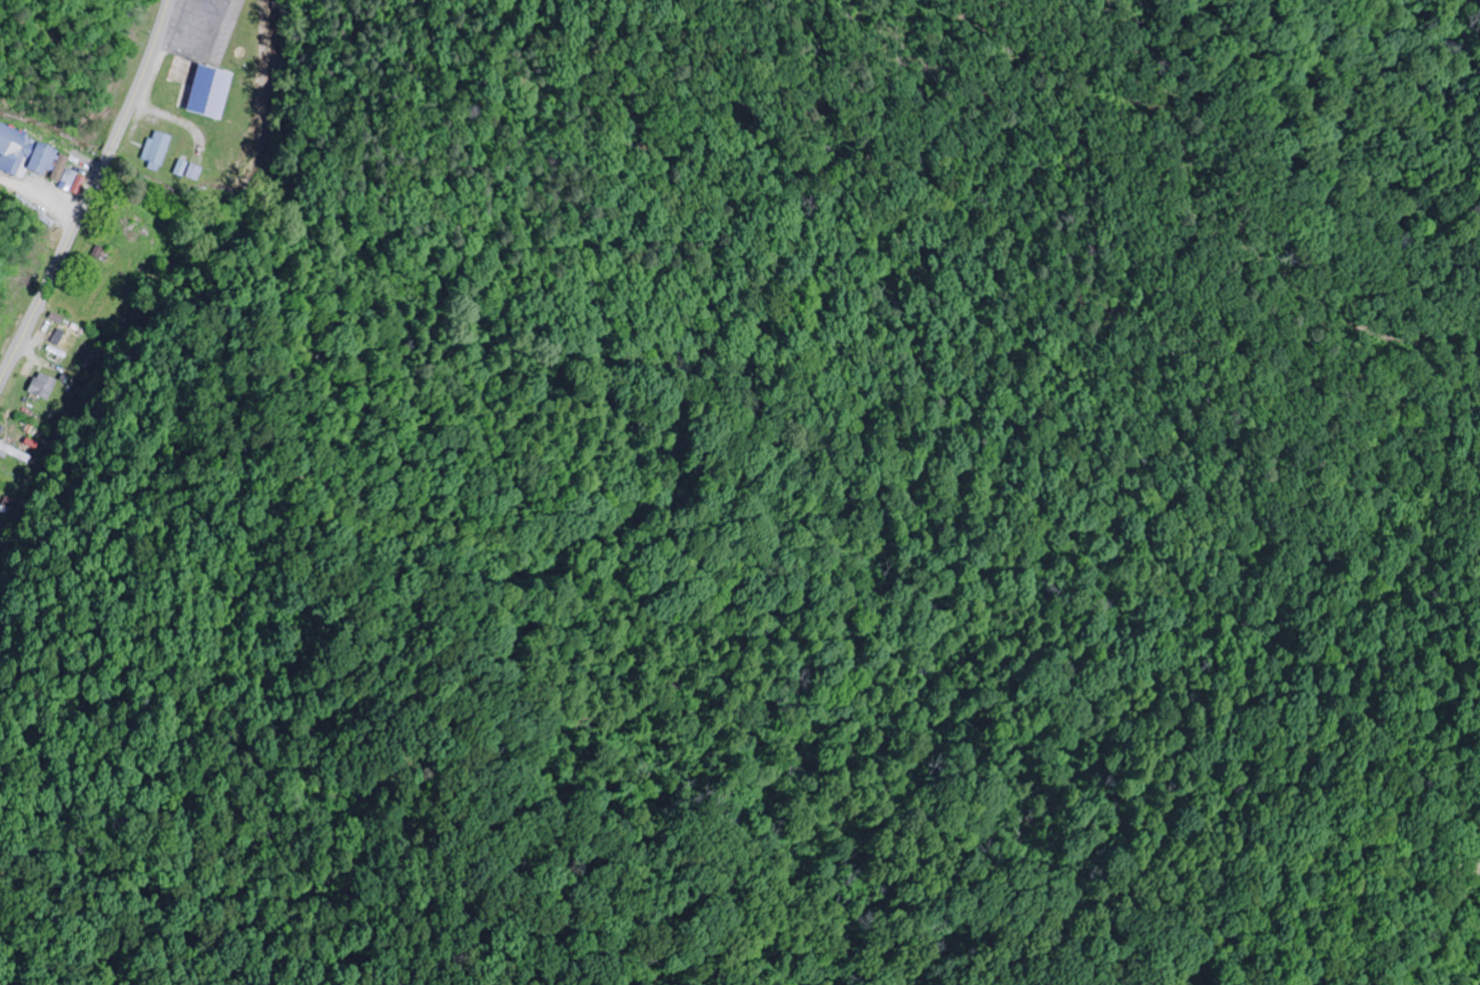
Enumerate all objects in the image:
road: (74, 55)
building: (194, 68)
building: (157, 150)
building: (50, 162)
road: (88, 194)
building: (117, 215)
building: (64, 339)
building: (43, 386)
building: (13, 453)

